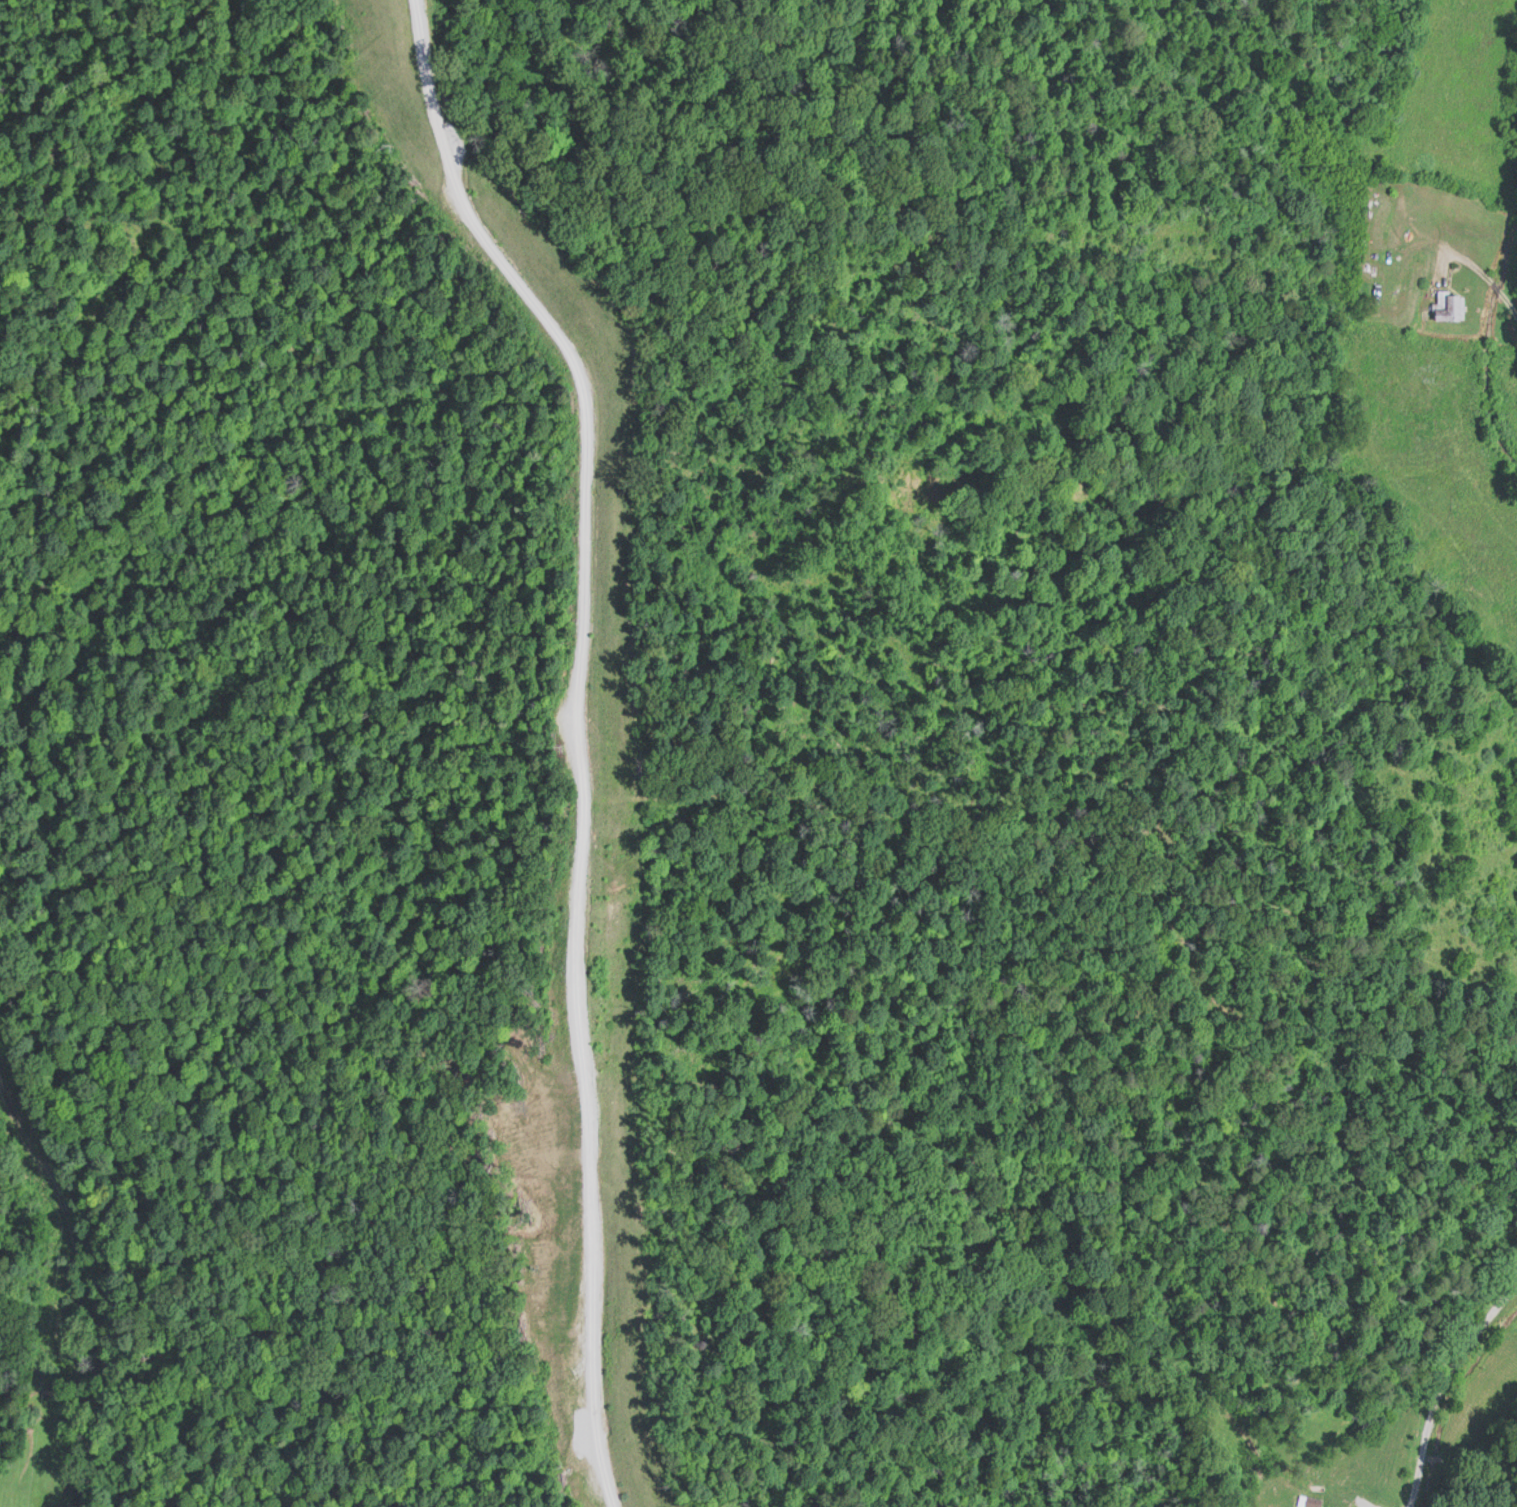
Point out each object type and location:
building: (1449, 305)
road: (1440, 1380)

